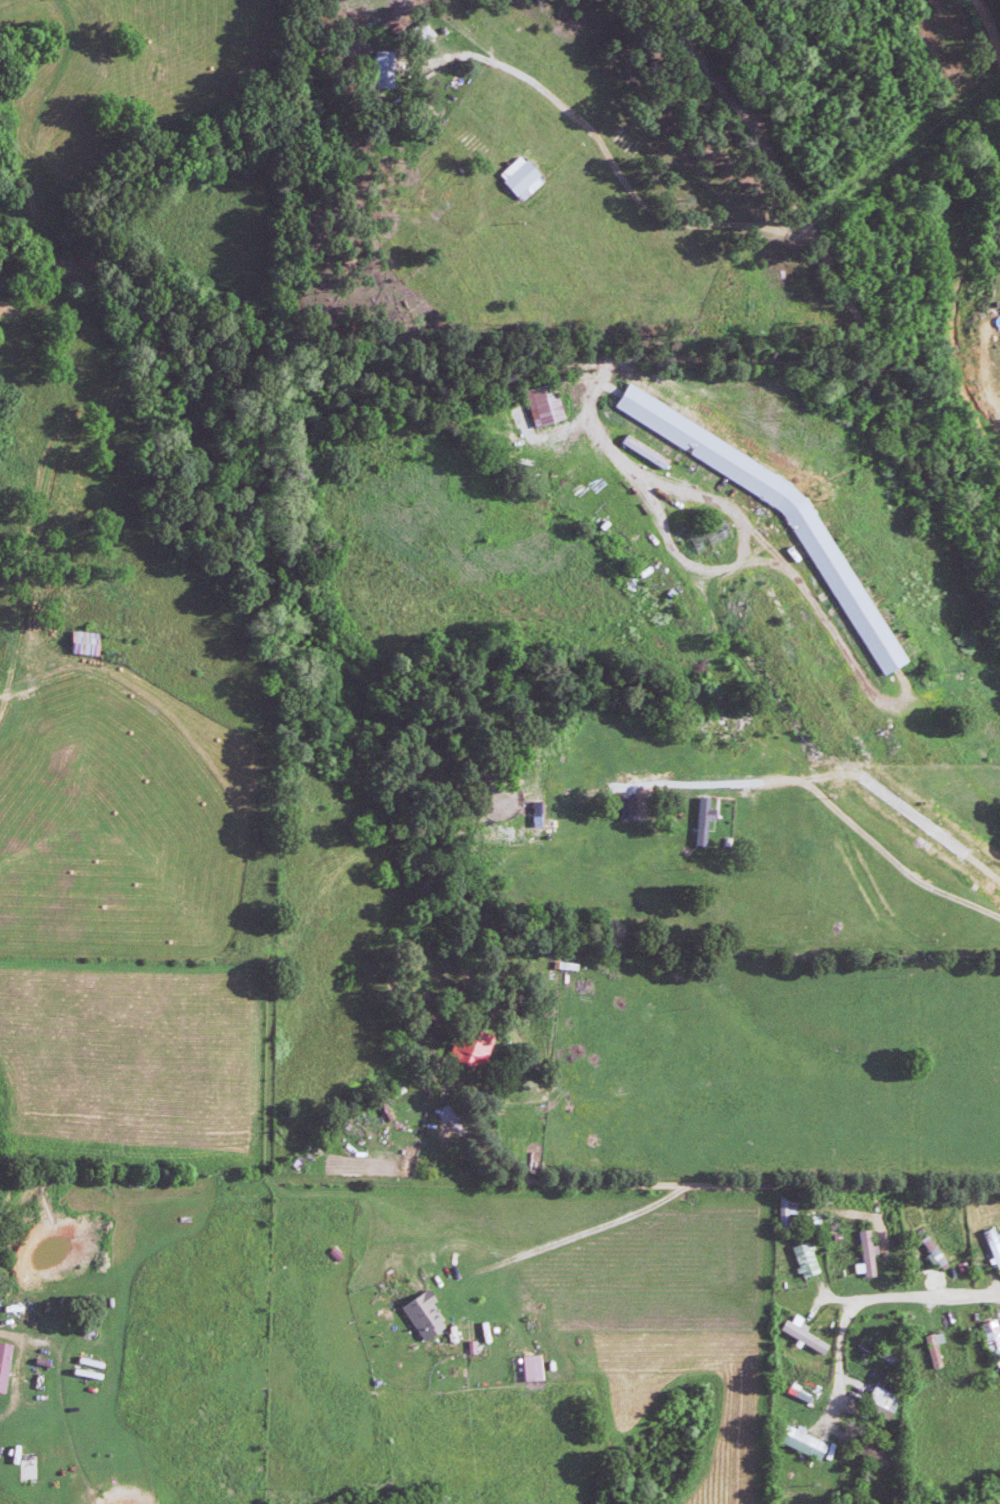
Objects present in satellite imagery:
road: (991, 25)
road: (610, 165)
building: (520, 178)
building: (543, 406)
road: (910, 416)
building: (683, 434)
building: (831, 572)
building: (83, 644)
road: (7, 687)
road: (796, 754)
building: (701, 820)
building: (471, 1050)
road: (683, 1185)
building: (786, 1211)
building: (993, 1248)
road: (504, 1253)
building: (864, 1254)
building: (802, 1258)
road: (866, 1299)
building: (423, 1315)
building: (802, 1334)
building: (990, 1337)
building: (932, 1348)
building: (3, 1364)
building: (530, 1368)
building: (998, 1375)
building: (879, 1402)
building: (803, 1443)

